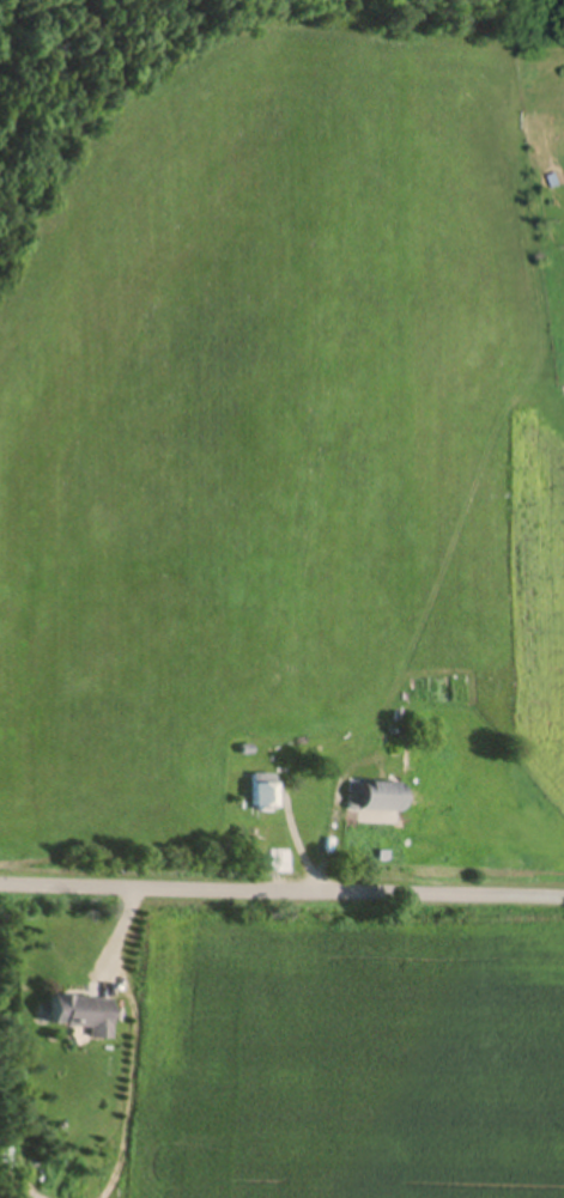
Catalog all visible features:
building: (261, 795)
building: (381, 801)
road: (281, 892)
building: (80, 1017)

